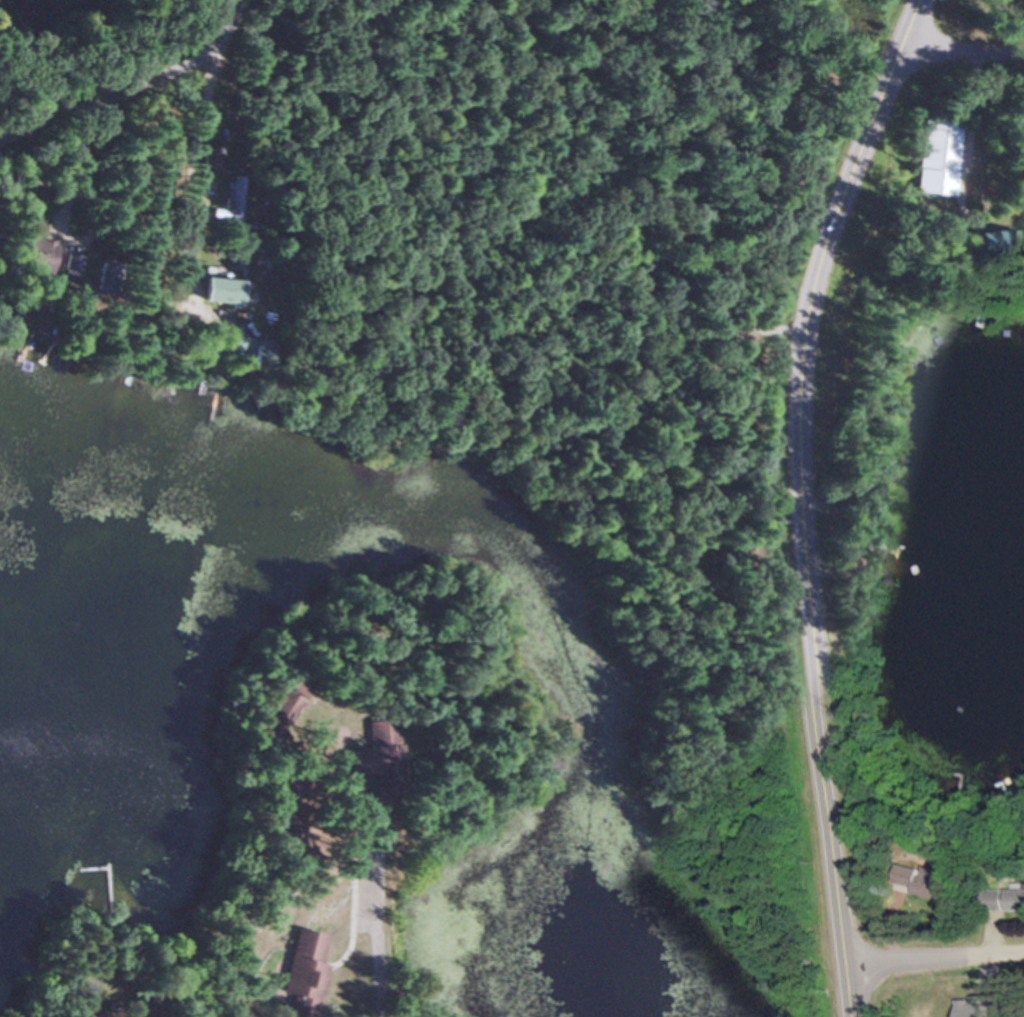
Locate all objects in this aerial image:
road: (960, 52)
road: (134, 91)
road: (967, 122)
building: (935, 158)
road: (151, 165)
road: (191, 169)
road: (100, 172)
building: (232, 197)
building: (984, 244)
building: (66, 267)
building: (102, 278)
building: (217, 292)
building: (243, 348)
road: (793, 499)
building: (285, 699)
building: (377, 755)
building: (988, 783)
building: (281, 820)
building: (918, 880)
building: (1017, 900)
road: (372, 939)
road: (934, 963)
building: (298, 971)
building: (145, 1006)

